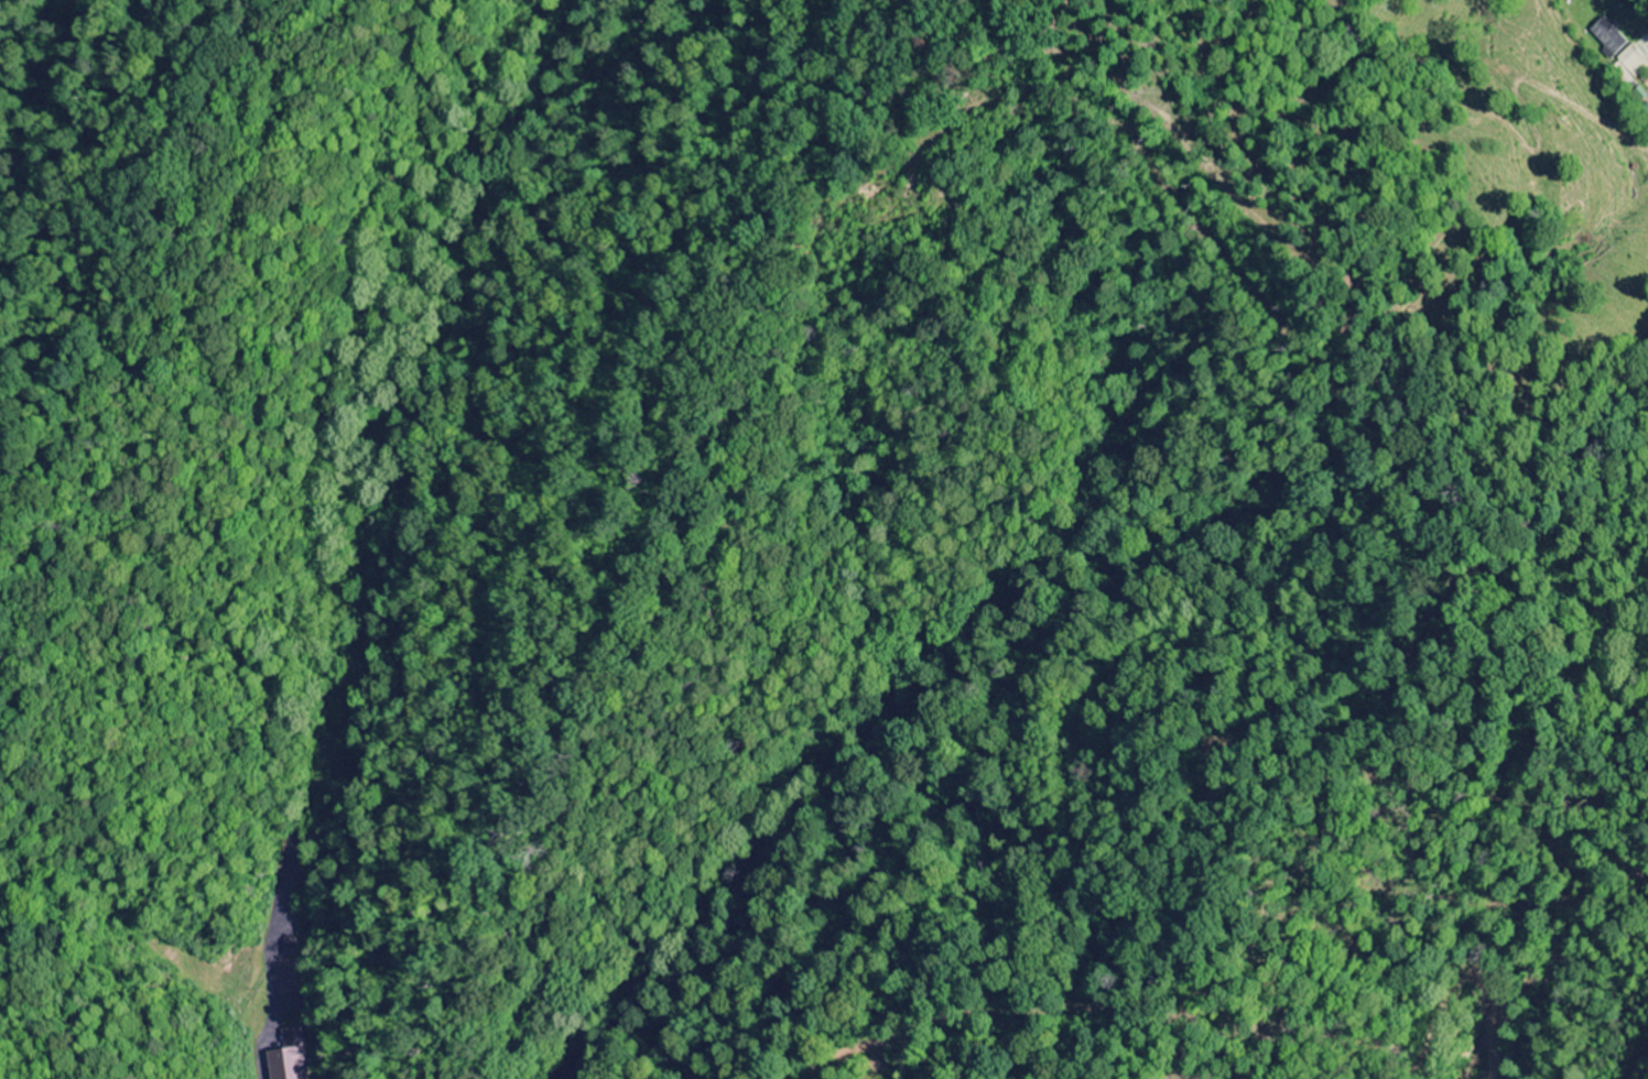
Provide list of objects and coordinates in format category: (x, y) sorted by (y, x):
road: (1647, 0)
building: (1607, 36)
building: (1634, 61)
building: (292, 979)
building: (293, 1057)

